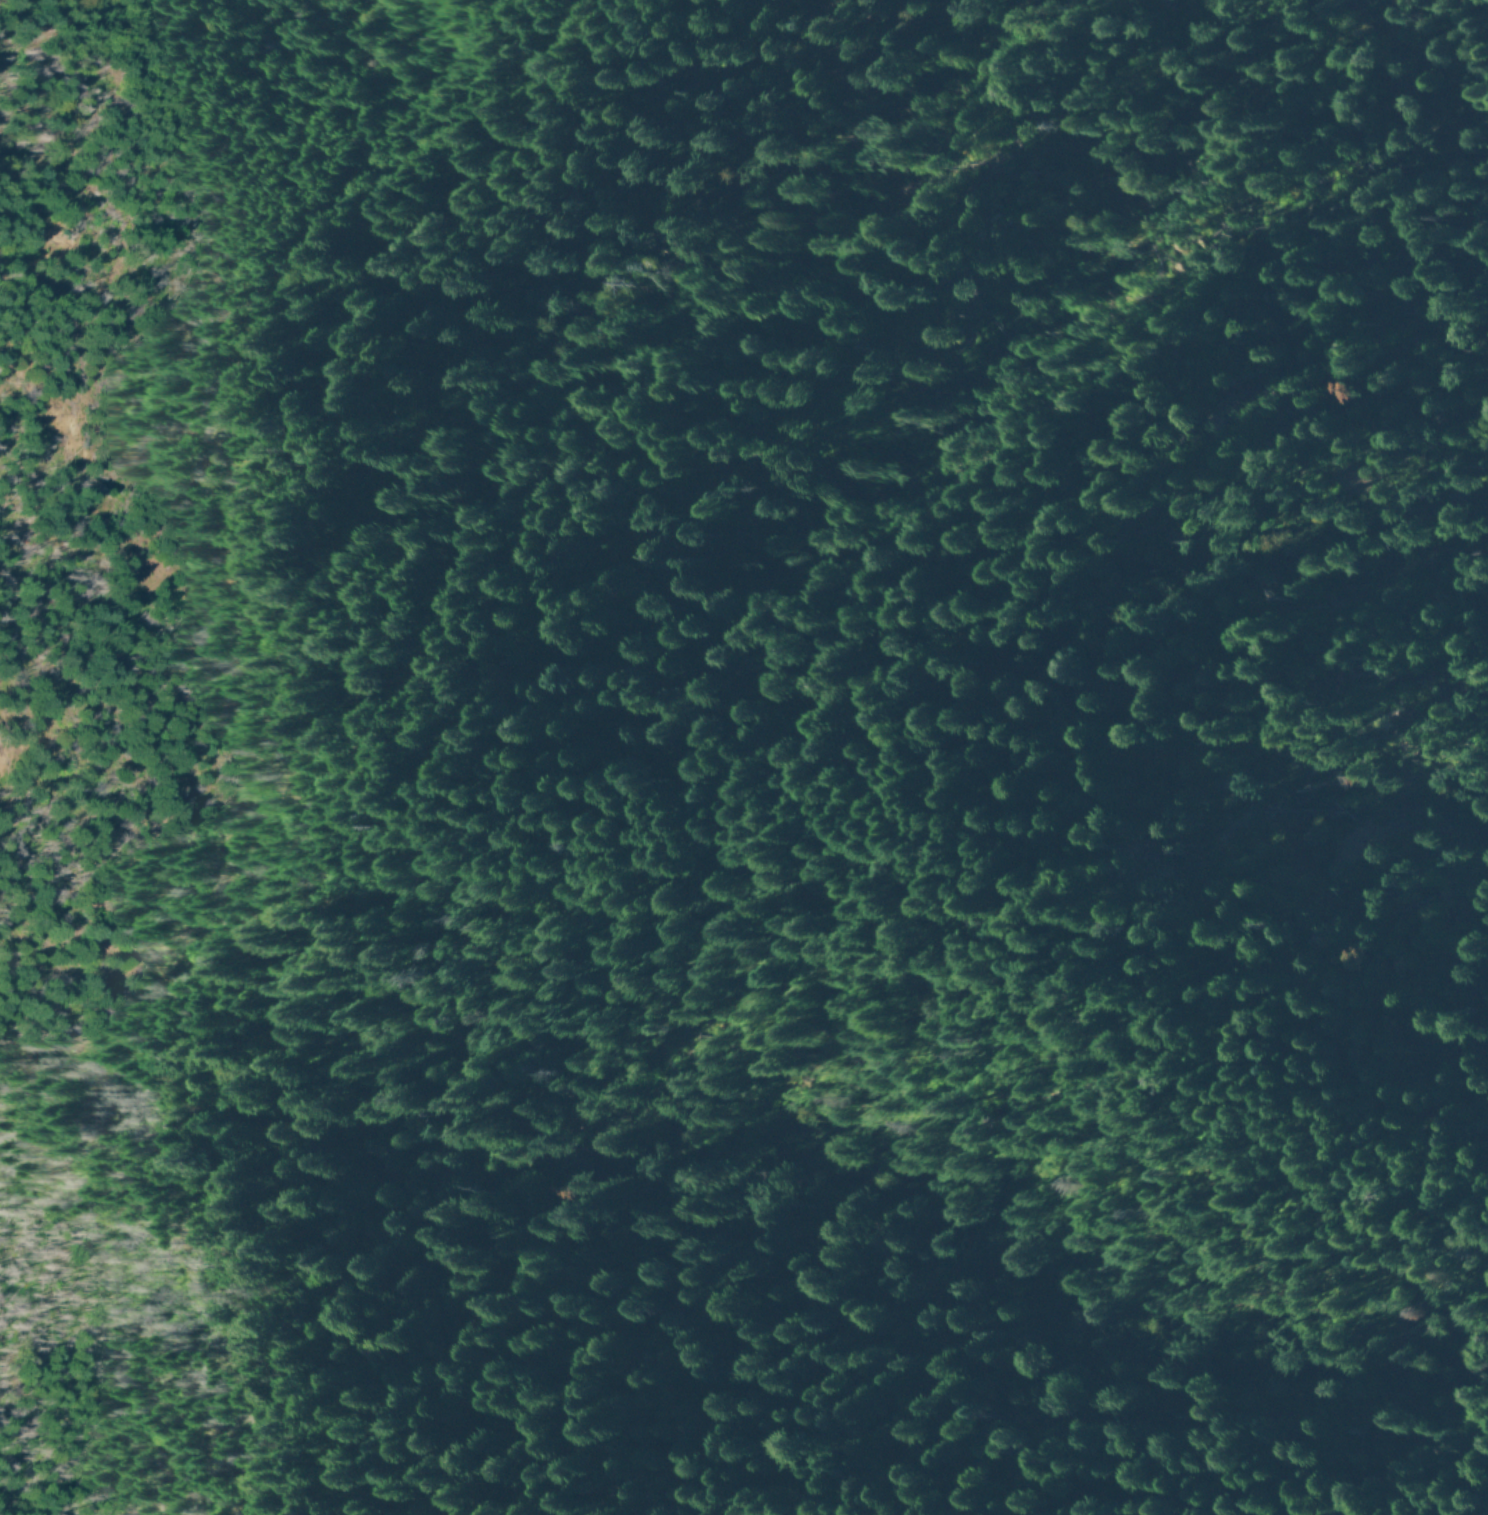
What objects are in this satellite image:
road: (1459, 74)

